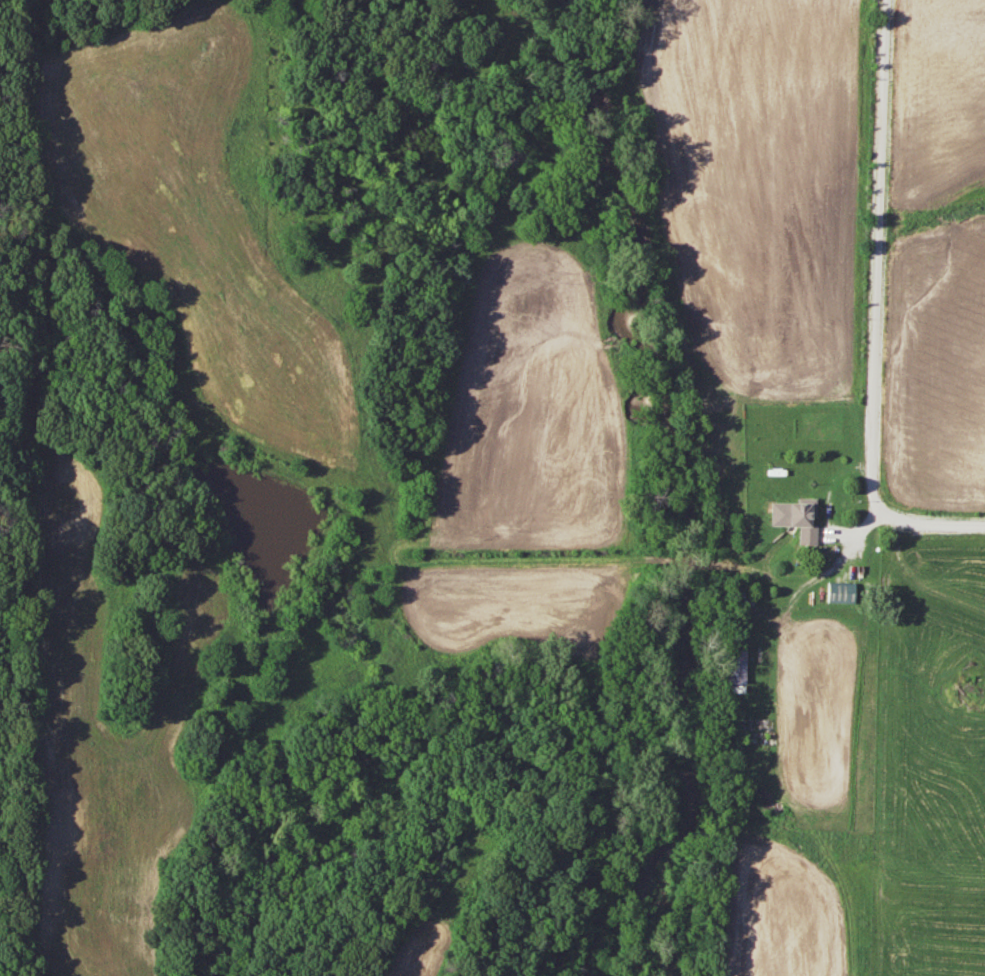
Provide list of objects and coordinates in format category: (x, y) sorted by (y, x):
road: (875, 312)
building: (794, 520)
road: (813, 582)
building: (838, 593)
building: (733, 666)

